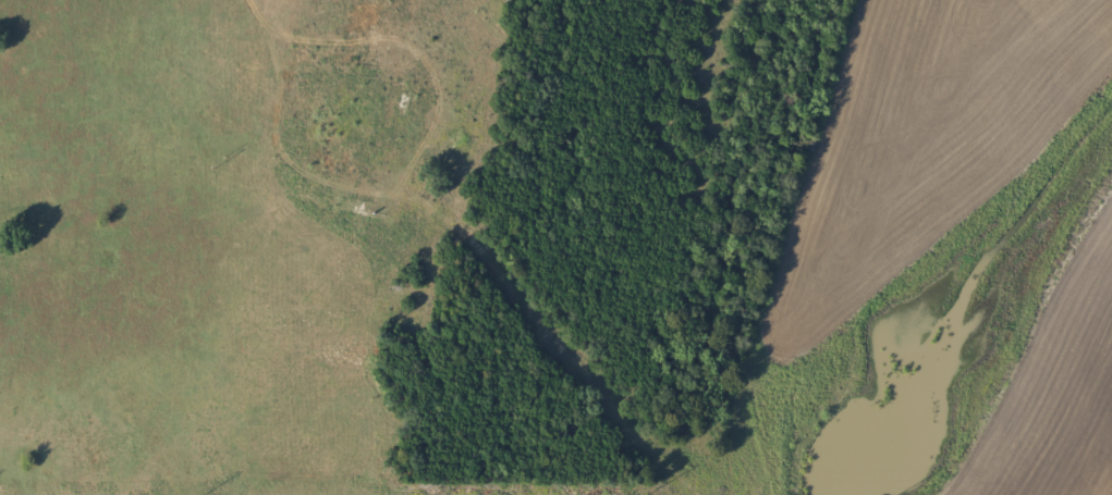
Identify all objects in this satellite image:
road: (834, 126)
road: (9, 178)

